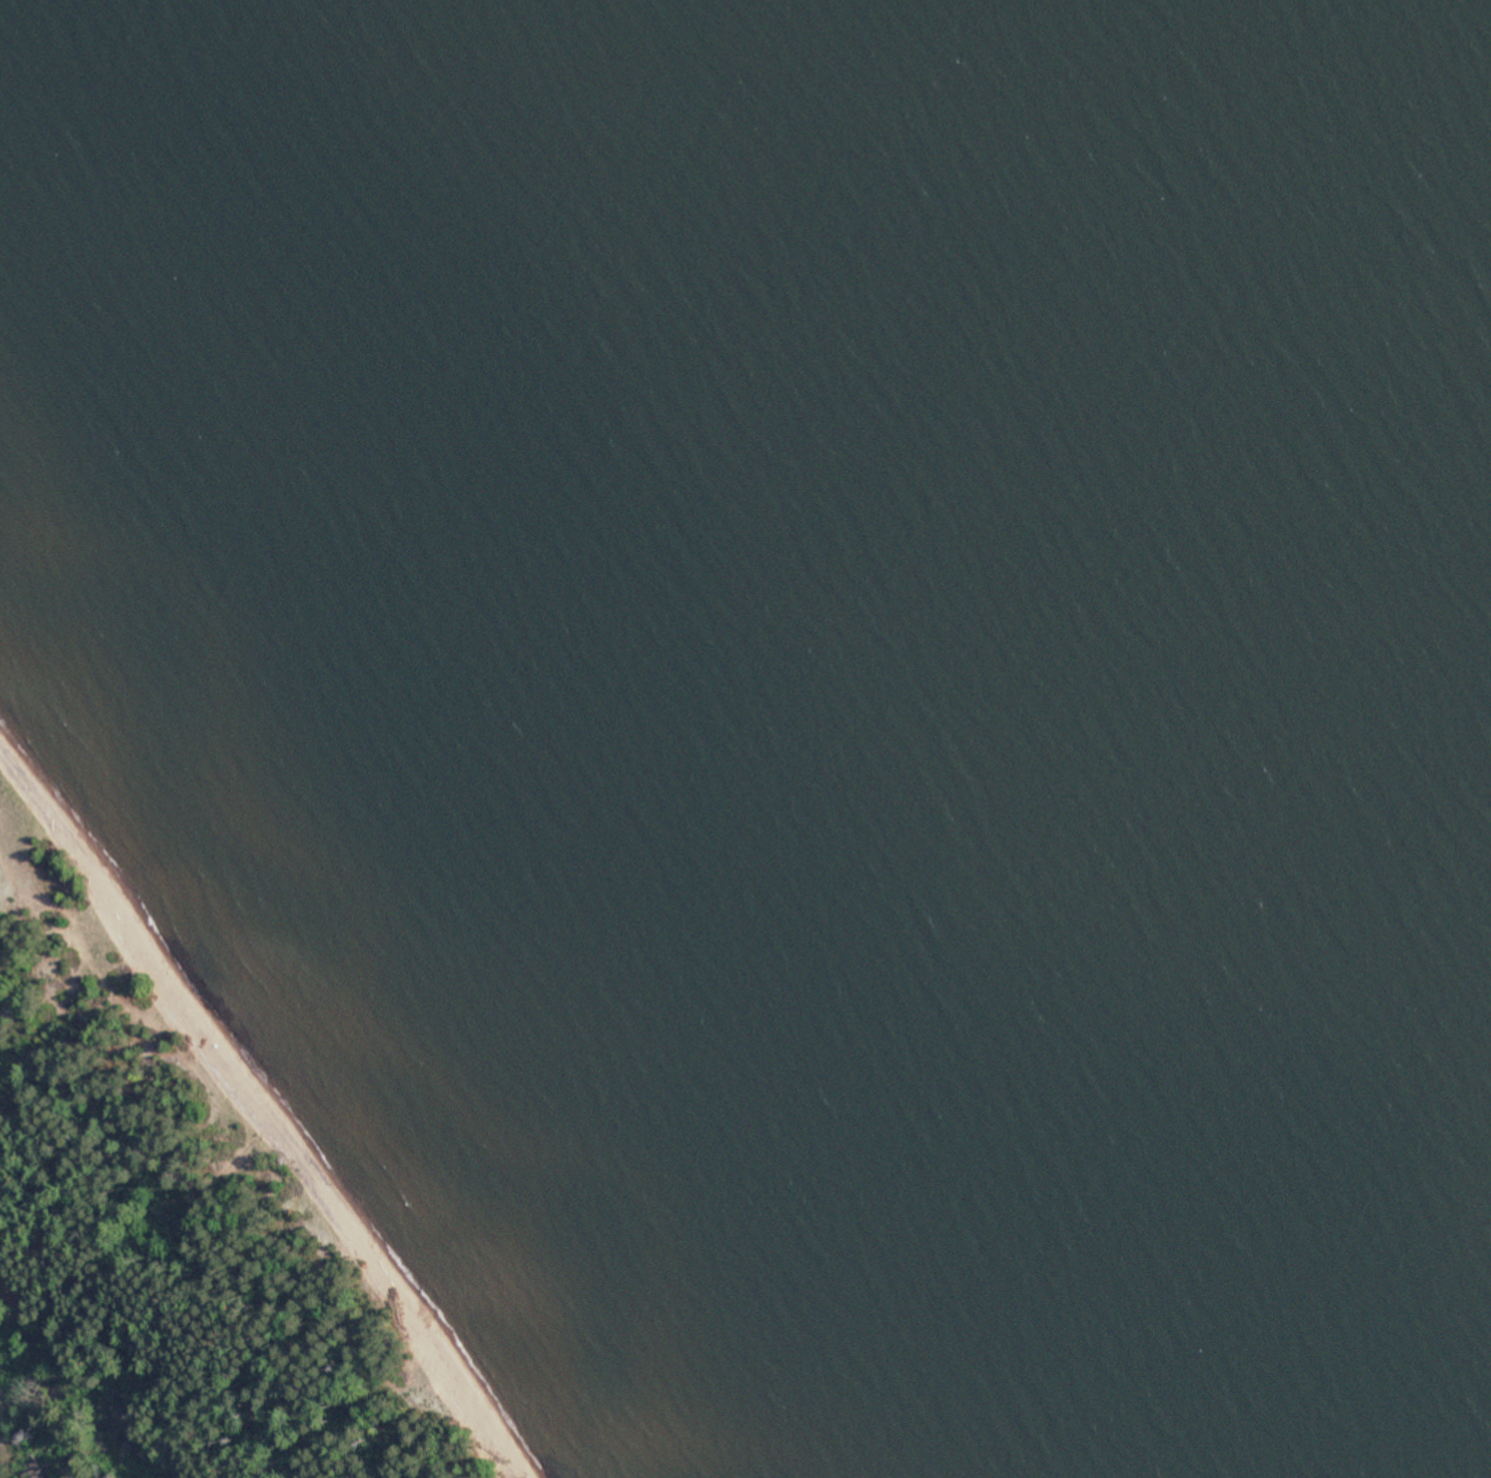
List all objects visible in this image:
road: (108, 1329)

